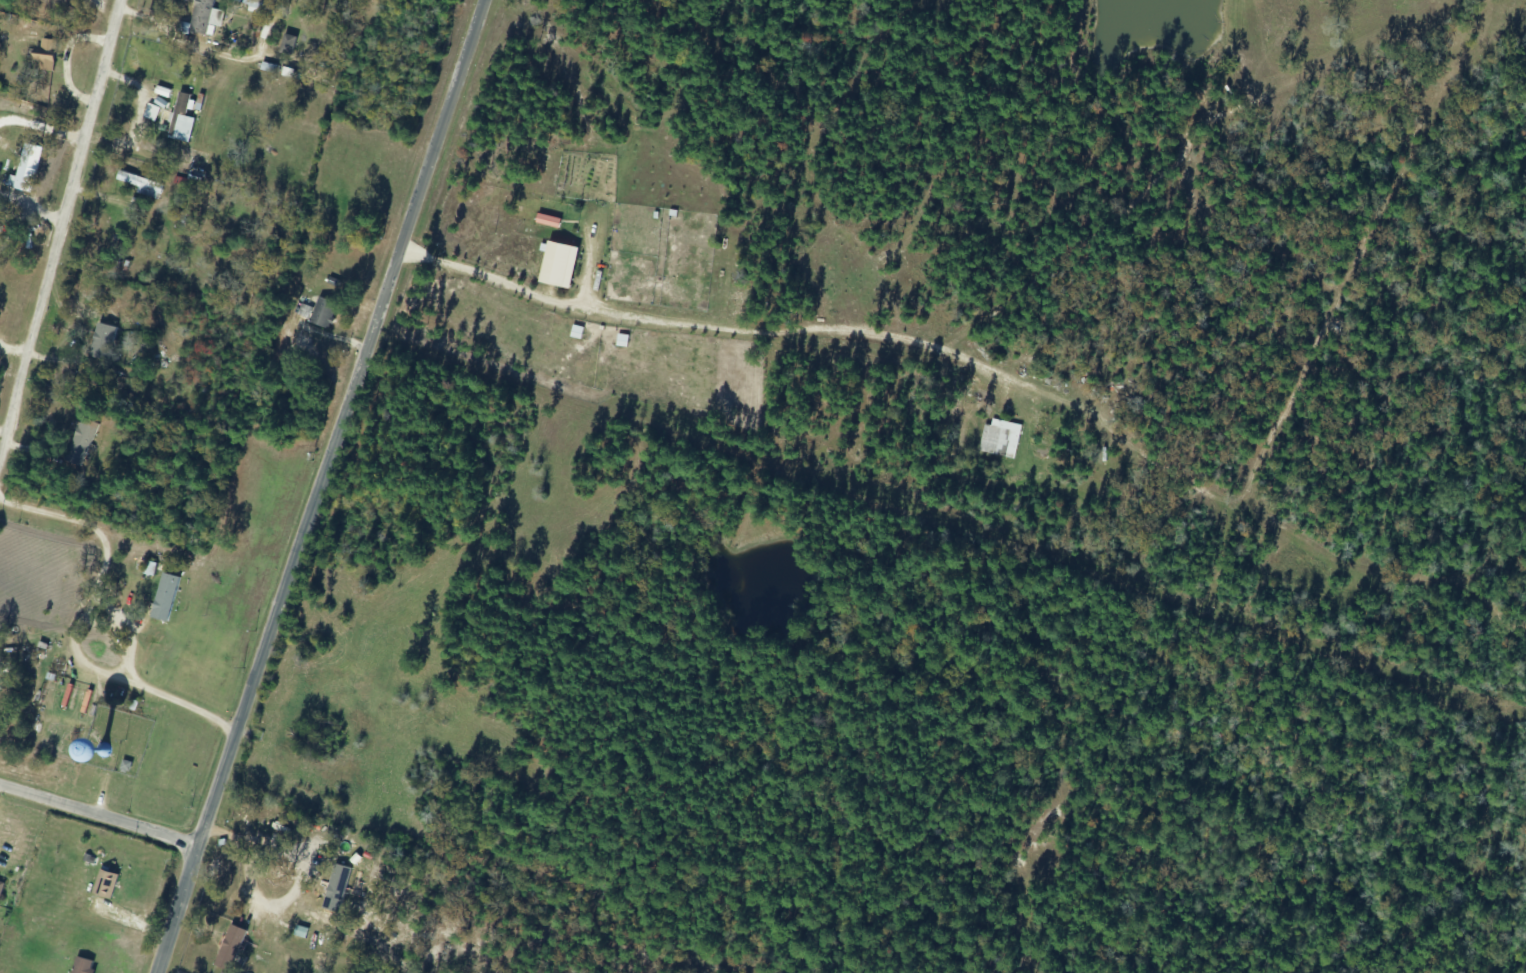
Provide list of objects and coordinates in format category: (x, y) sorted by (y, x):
building: (204, 16)
building: (44, 54)
building: (179, 116)
building: (26, 167)
building: (138, 183)
road: (66, 239)
building: (136, 252)
building: (321, 312)
building: (103, 343)
building: (80, 441)
road: (320, 486)
building: (164, 597)
building: (51, 681)
building: (322, 728)
building: (115, 729)
road: (101, 819)
building: (273, 839)
road: (244, 859)
building: (104, 884)
building: (1, 886)
building: (81, 965)

